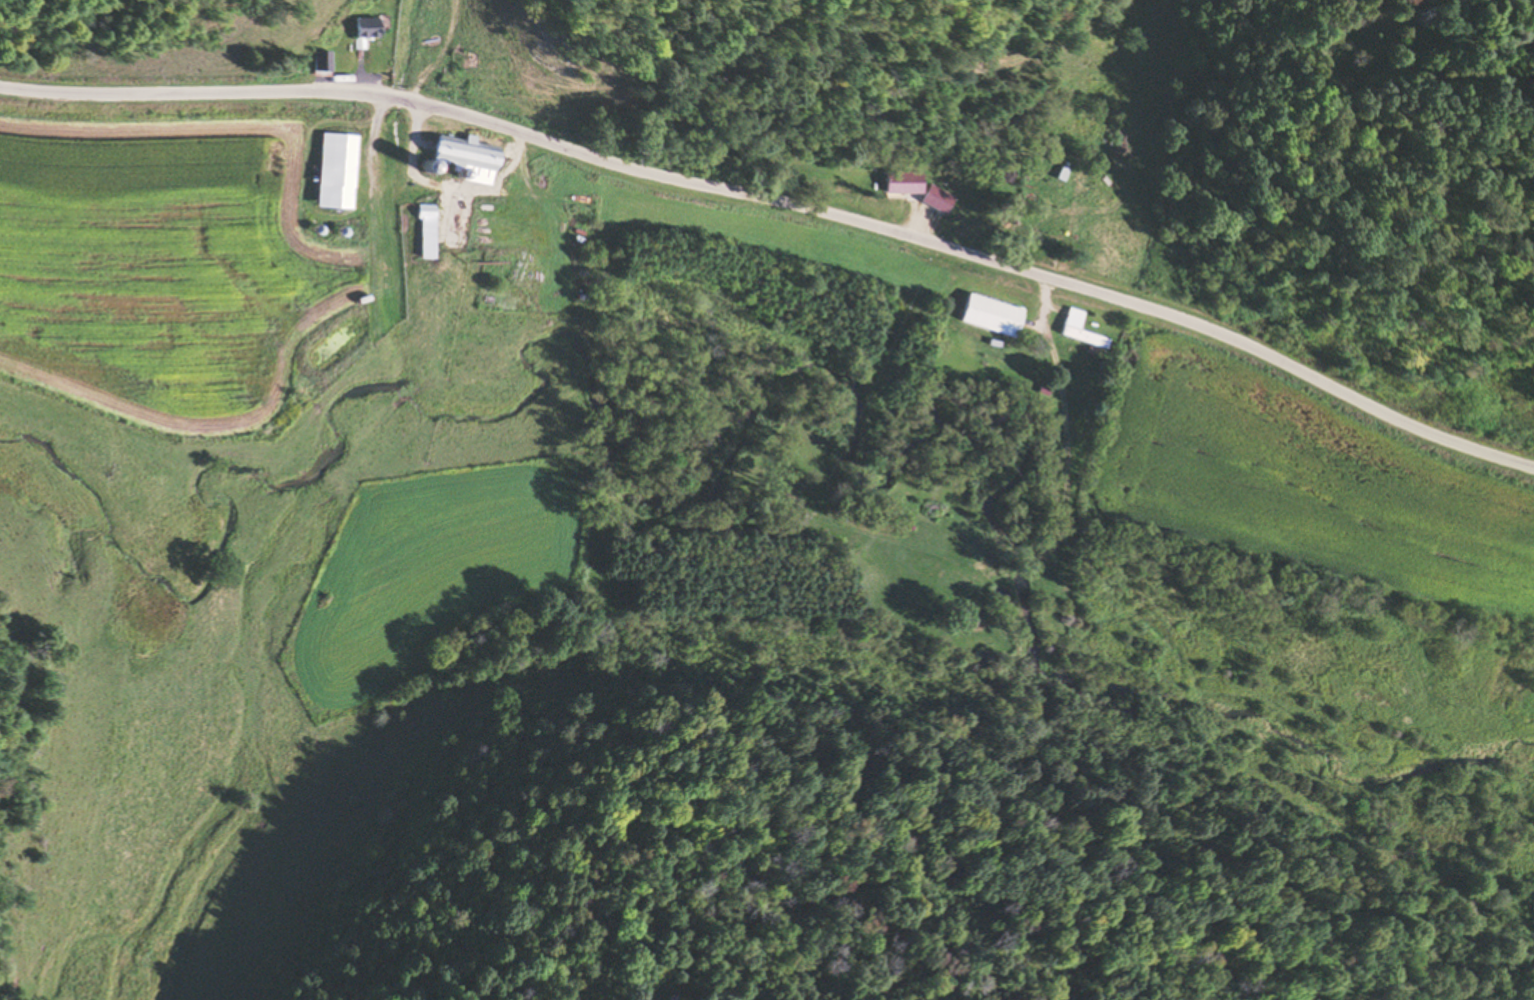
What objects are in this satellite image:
building: (363, 28)
building: (319, 63)
building: (488, 67)
building: (463, 154)
building: (335, 171)
building: (1059, 173)
building: (902, 182)
building: (936, 198)
road: (782, 205)
building: (426, 232)
crop: (159, 254)
building: (990, 315)
building: (1080, 334)
crop: (1304, 477)
crop: (427, 573)

